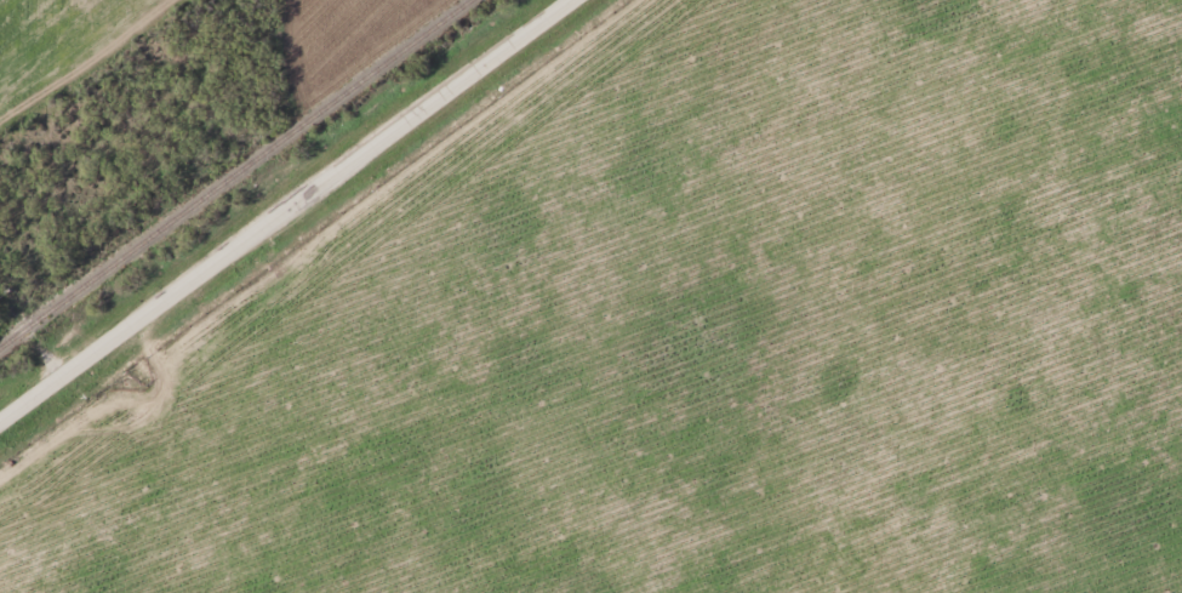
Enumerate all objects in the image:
railway: (234, 173)
road: (285, 211)

